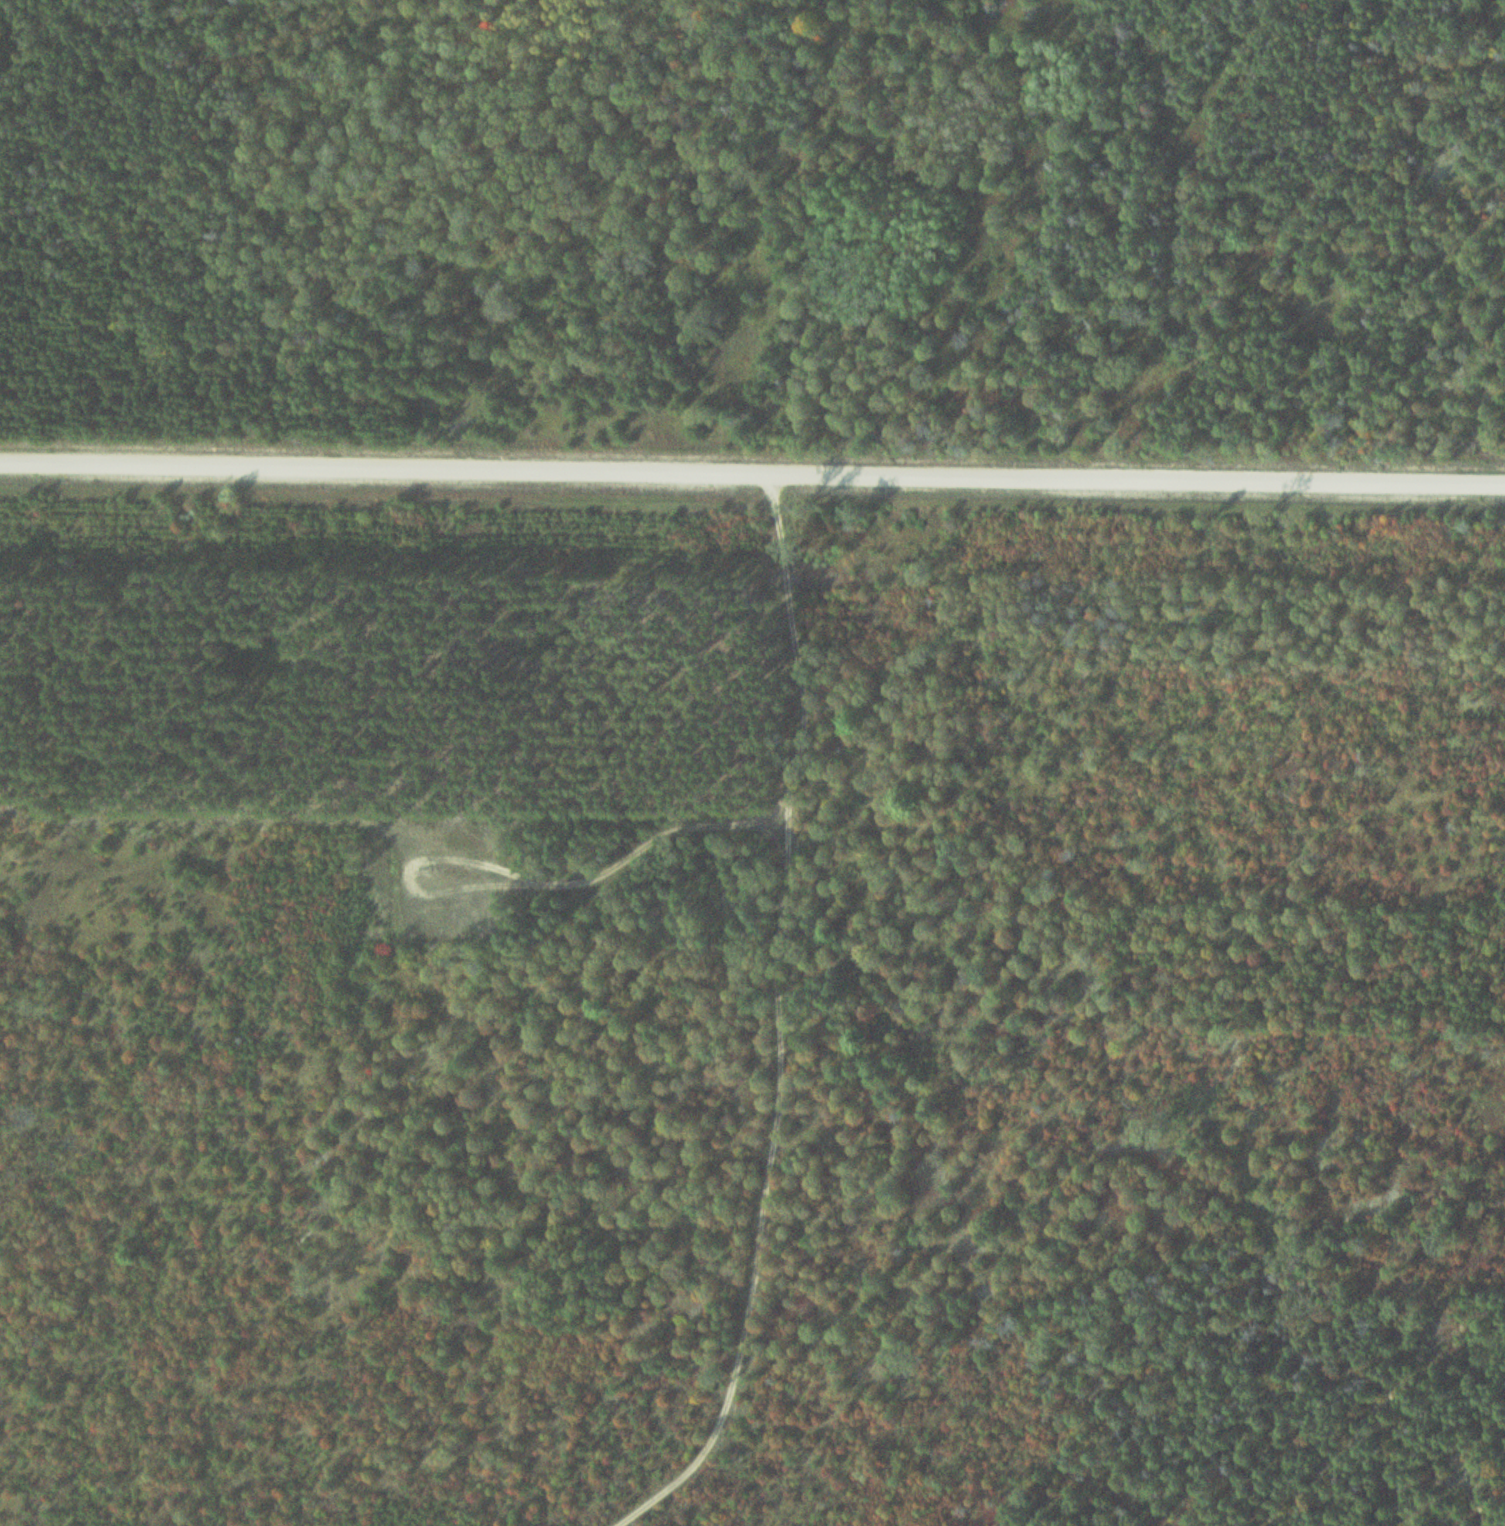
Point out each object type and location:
road: (752, 470)
road: (813, 655)
road: (780, 1025)

